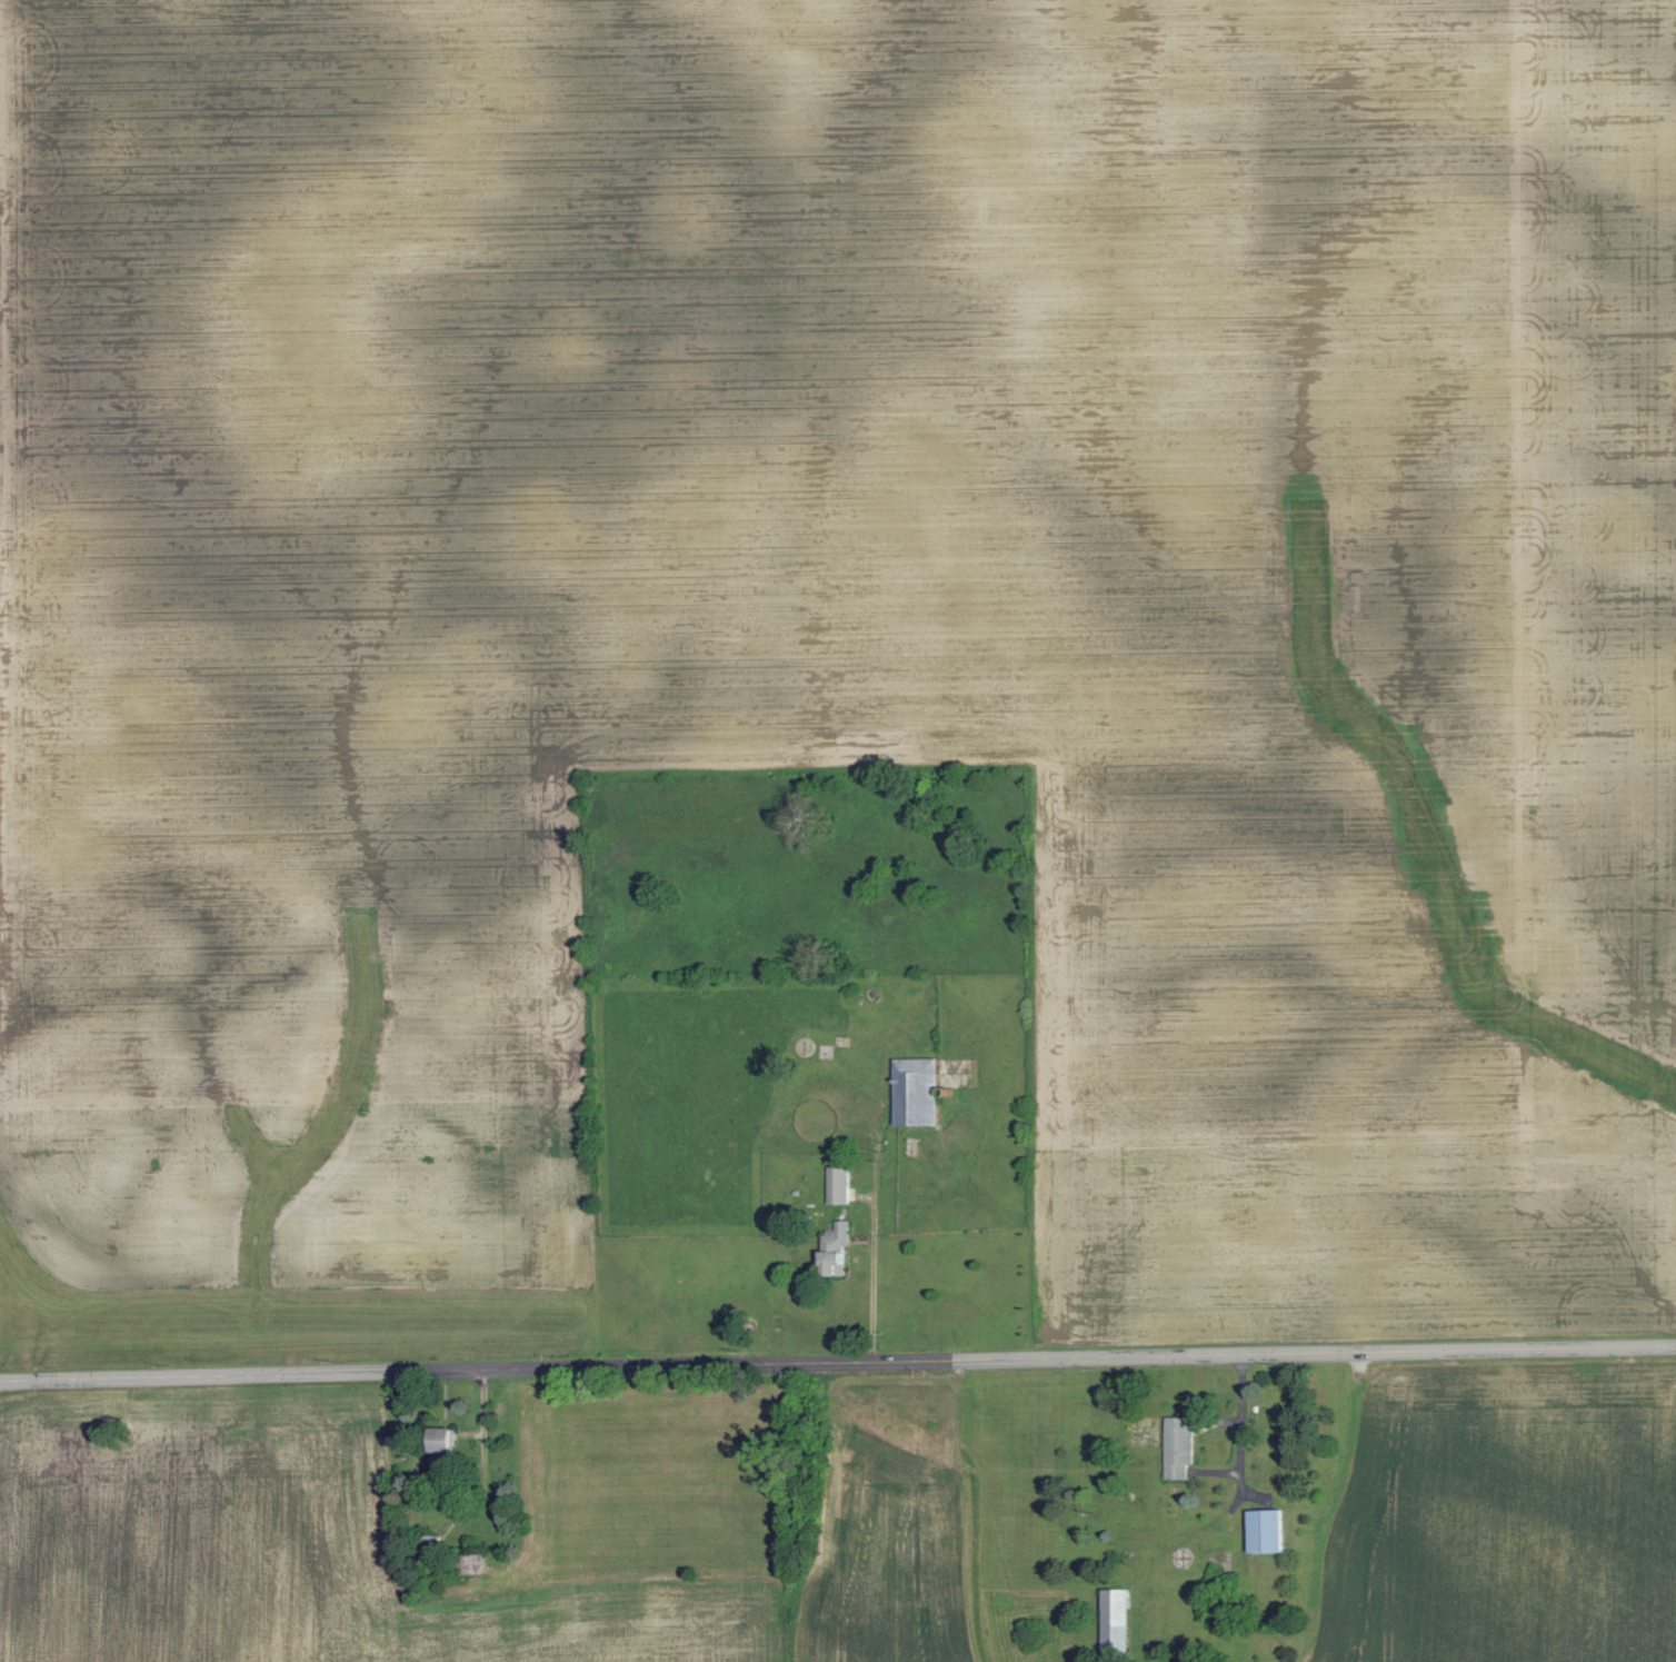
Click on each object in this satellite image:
building: (915, 1092)
building: (837, 1184)
building: (834, 1248)
road: (837, 1363)
road: (485, 1401)
road: (1231, 1419)
road: (1241, 1434)
building: (1179, 1444)
building: (442, 1450)
road: (1216, 1471)
road: (1237, 1497)
crop: (1503, 1516)
crop: (887, 1520)
crop: (218, 1530)
building: (1268, 1530)
building: (431, 1549)
building: (472, 1563)
crop: (658, 1616)
building: (1118, 1622)

